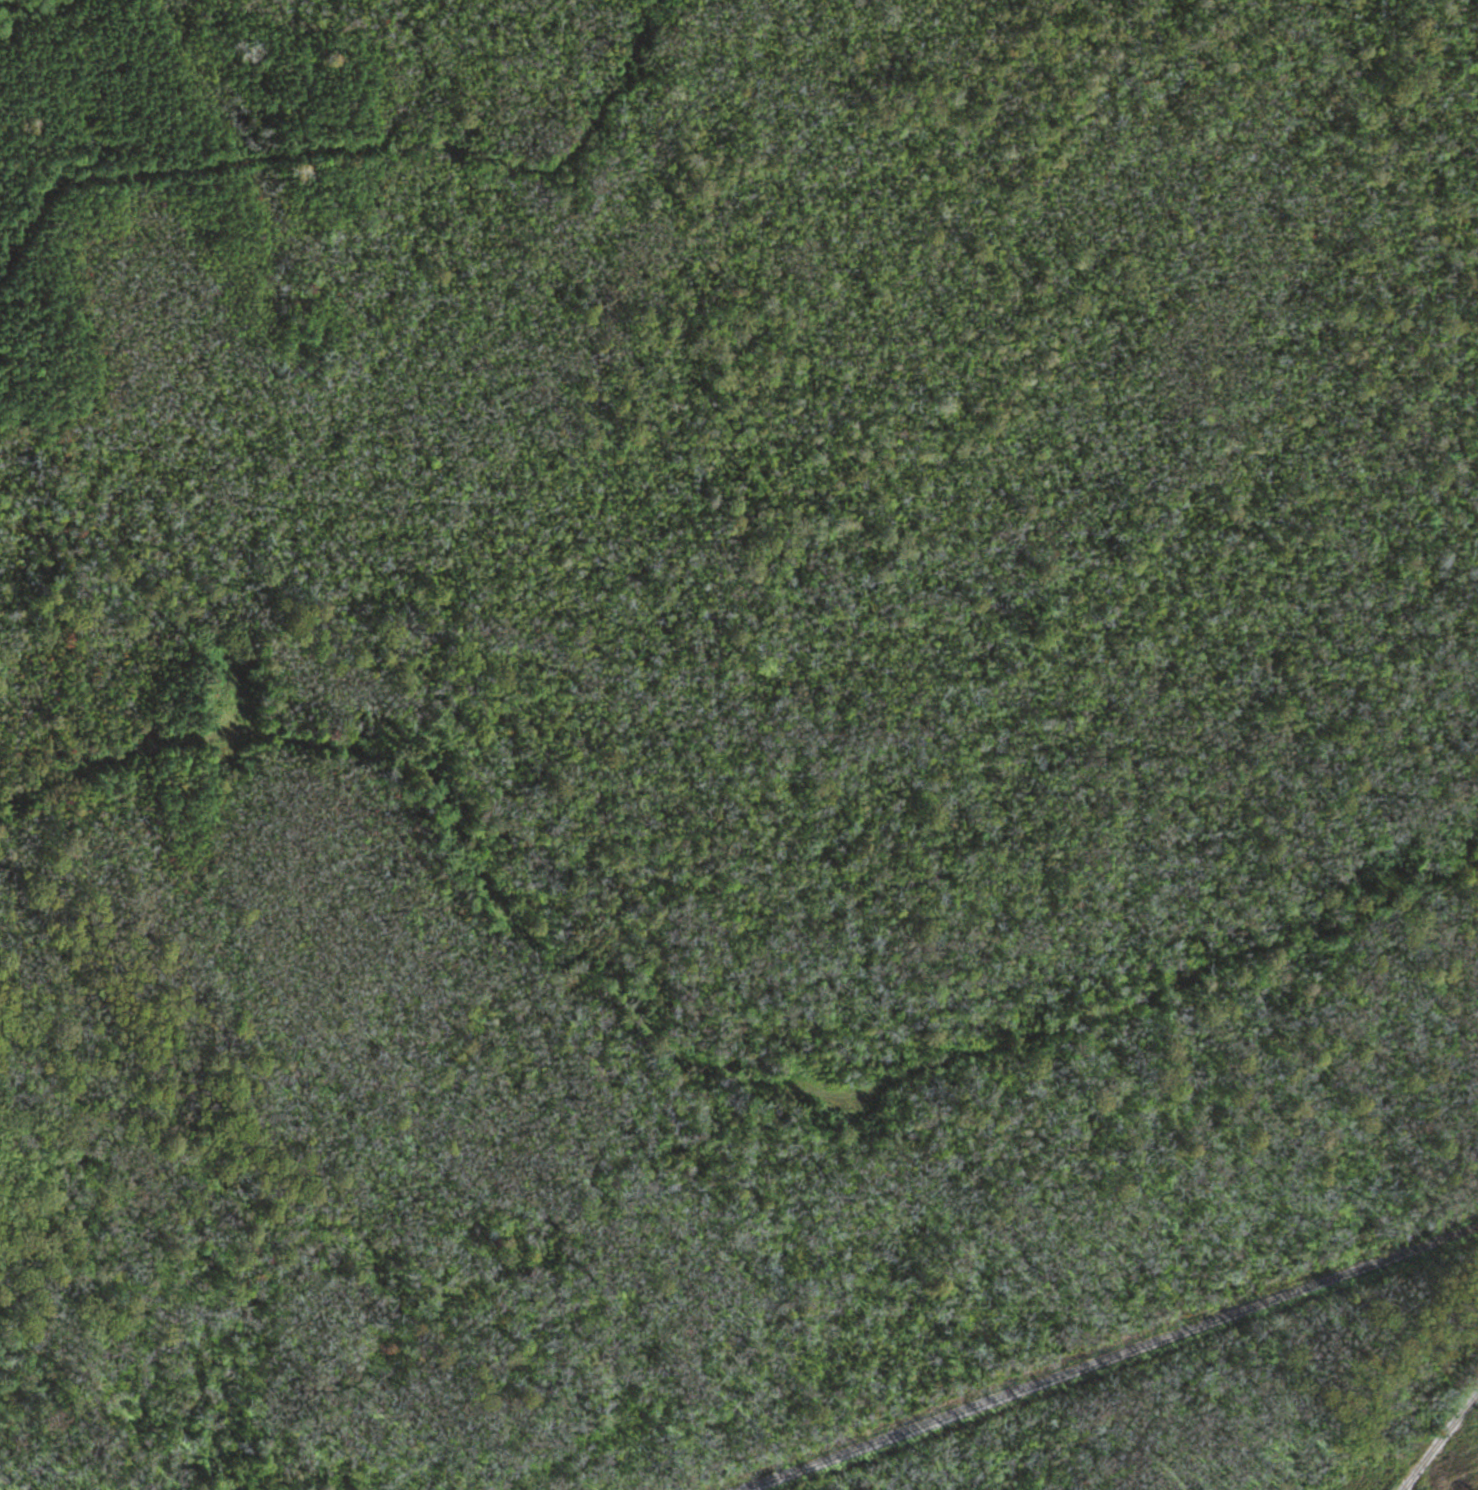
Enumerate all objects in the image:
railway: (1104, 1357)
railway: (1453, 1424)
railway: (1415, 1471)

